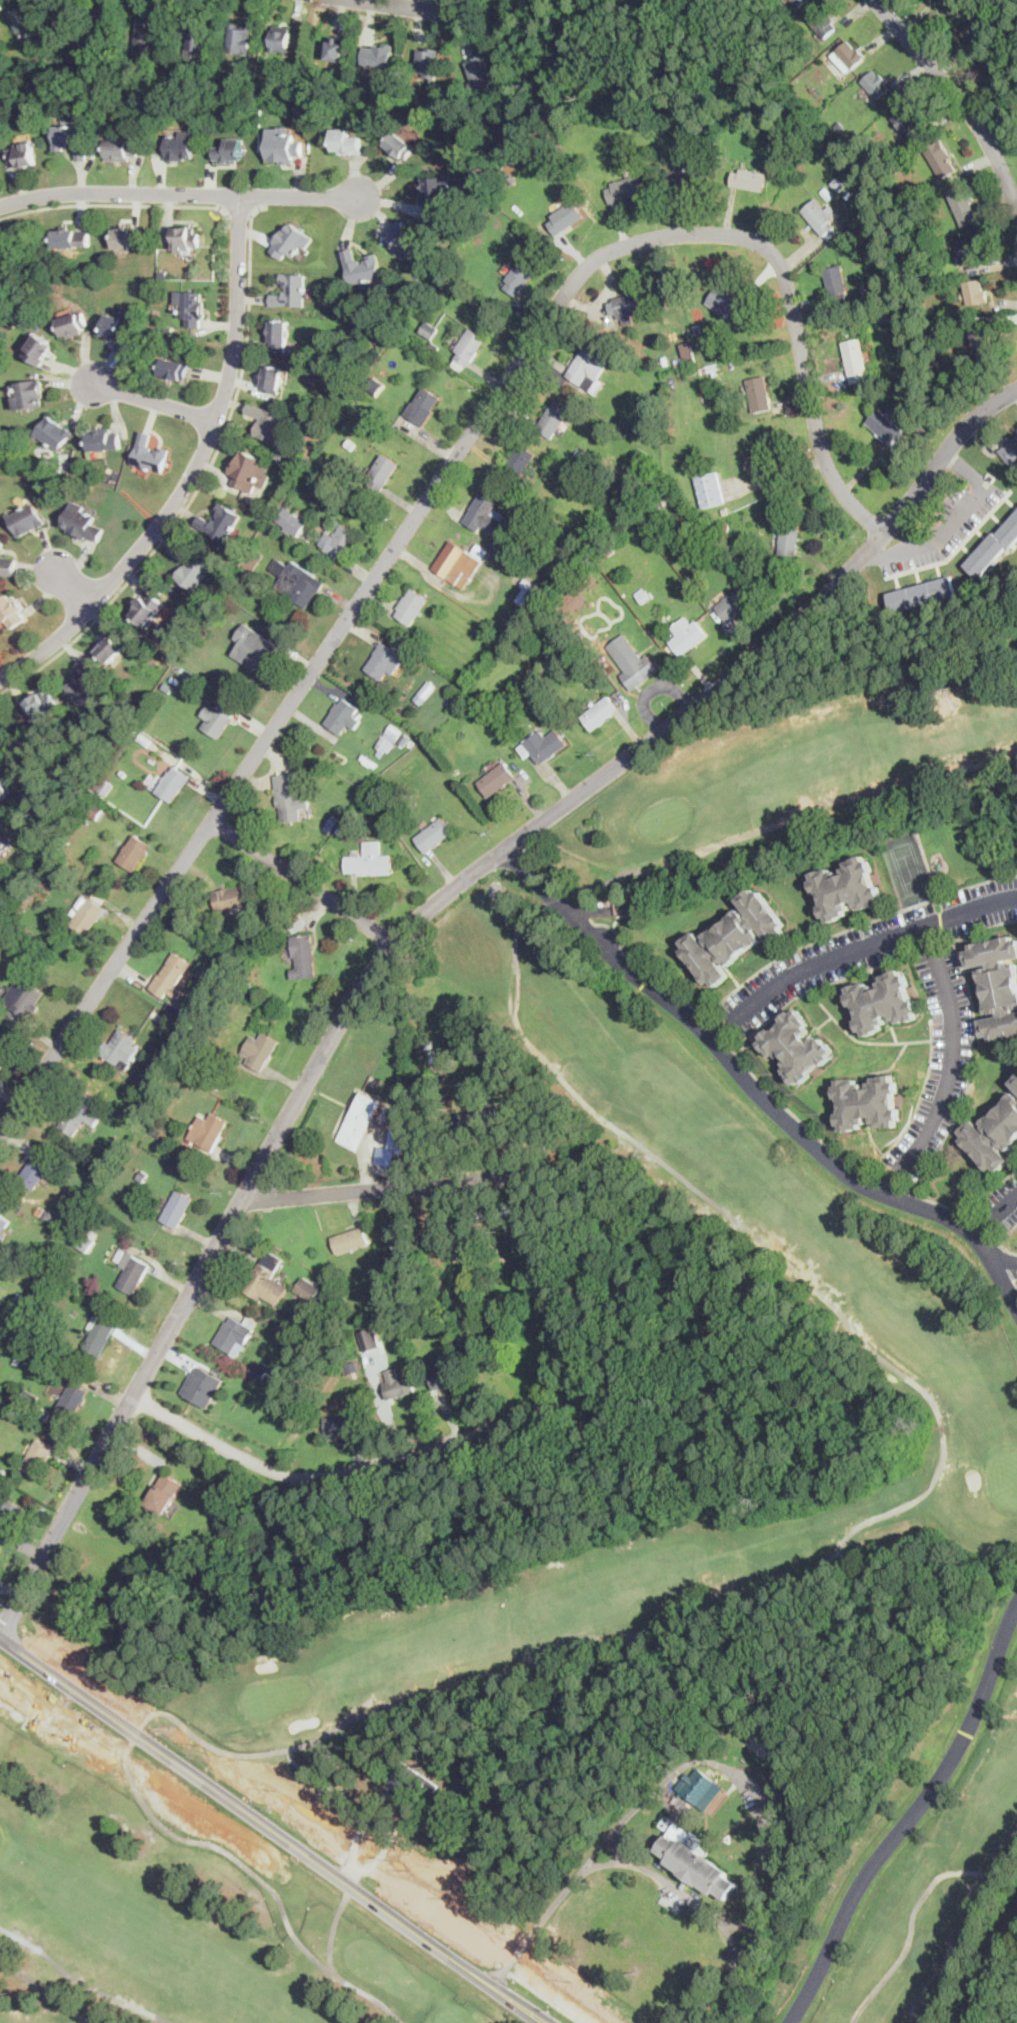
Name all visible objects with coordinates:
building: (799, 2)
road: (425, 5)
building: (955, 6)
building: (824, 23)
building: (25, 26)
building: (979, 30)
building: (145, 33)
building: (196, 35)
building: (239, 37)
building: (280, 37)
park: (513, 38)
building: (164, 40)
building: (335, 48)
building: (84, 53)
building: (379, 55)
building: (848, 56)
building: (219, 57)
building: (427, 63)
building: (995, 64)
building: (207, 68)
building: (478, 70)
building: (275, 80)
building: (876, 83)
building: (246, 89)
building: (323, 90)
building: (357, 91)
building: (766, 95)
road: (960, 97)
building: (37, 120)
building: (908, 121)
building: (796, 125)
building: (703, 126)
building: (852, 138)
building: (72, 139)
building: (347, 142)
building: (181, 146)
building: (284, 146)
building: (400, 146)
building: (122, 150)
building: (230, 151)
building: (24, 154)
building: (940, 160)
building: (511, 179)
building: (750, 179)
building: (686, 182)
building: (839, 184)
building: (625, 189)
road: (178, 193)
building: (436, 193)
building: (827, 194)
building: (848, 195)
road: (112, 202)
building: (963, 203)
road: (237, 212)
building: (566, 218)
building: (821, 218)
building: (402, 236)
building: (73, 238)
building: (187, 238)
building: (127, 239)
building: (291, 240)
building: (427, 251)
building: (968, 251)
building: (102, 265)
building: (363, 269)
building: (163, 273)
building: (520, 277)
building: (836, 282)
building: (291, 292)
building: (975, 292)
building: (871, 293)
building: (726, 304)
building: (192, 306)
building: (625, 307)
building: (882, 314)
building: (940, 318)
building: (413, 322)
building: (11, 323)
building: (74, 324)
building: (117, 329)
building: (699, 329)
building: (430, 330)
building: (665, 330)
building: (278, 335)
building: (981, 341)
building: (434, 347)
building: (39, 349)
building: (468, 349)
building: (689, 354)
building: (855, 359)
building: (679, 361)
building: (584, 365)
building: (174, 369)
building: (694, 369)
building: (710, 369)
building: (272, 378)
building: (375, 387)
building: (759, 393)
building: (30, 394)
road: (151, 399)
building: (422, 407)
building: (554, 418)
building: (267, 422)
building: (644, 424)
building: (887, 427)
building: (54, 433)
building: (105, 440)
building: (351, 444)
building: (1010, 450)
building: (578, 453)
building: (150, 454)
building: (279, 455)
building: (765, 462)
building: (519, 463)
road: (968, 469)
road: (191, 470)
building: (250, 470)
building: (383, 472)
road: (199, 479)
building: (710, 489)
road: (429, 492)
building: (665, 497)
building: (725, 511)
building: (524, 512)
building: (649, 512)
building: (484, 516)
building: (26, 519)
building: (220, 522)
building: (82, 523)
building: (296, 525)
building: (726, 527)
road: (945, 530)
building: (690, 537)
building: (790, 538)
building: (535, 540)
building: (343, 542)
building: (2, 543)
building: (993, 548)
building: (480, 552)
road: (877, 552)
building: (236, 555)
building: (513, 555)
building: (251, 561)
building: (457, 565)
building: (7, 566)
building: (191, 569)
building: (228, 572)
building: (692, 582)
building: (298, 583)
road: (70, 586)
building: (527, 592)
building: (922, 594)
building: (545, 597)
building: (644, 597)
building: (733, 602)
building: (411, 606)
building: (218, 608)
building: (147, 609)
building: (12, 611)
building: (2, 621)
building: (552, 636)
building: (686, 636)
building: (112, 647)
building: (255, 648)
building: (384, 661)
building: (631, 661)
building: (190, 677)
building: (88, 685)
building: (167, 687)
building: (428, 689)
building: (511, 692)
building: (42, 705)
building: (600, 713)
building: (343, 716)
building: (219, 719)
building: (391, 736)
building: (405, 736)
building: (141, 737)
building: (410, 744)
building: (543, 745)
building: (497, 779)
building: (4, 783)
building: (173, 785)
building: (105, 787)
building: (289, 797)
building: (373, 803)
building: (94, 808)
building: (332, 822)
building: (340, 831)
building: (434, 835)
building: (4, 843)
building: (134, 853)
building: (369, 863)
park: (907, 870)
road: (302, 882)
building: (846, 888)
building: (511, 895)
building: (99, 898)
building: (230, 898)
building: (628, 908)
building: (89, 916)
building: (298, 921)
road: (406, 928)
building: (264, 937)
building: (734, 937)
building: (11, 939)
road: (855, 950)
building: (303, 956)
building: (171, 976)
building: (998, 984)
building: (23, 998)
building: (882, 1002)
building: (176, 1010)
building: (429, 1044)
building: (797, 1046)
building: (97, 1049)
building: (120, 1049)
building: (192, 1050)
building: (260, 1051)
building: (4, 1056)
building: (440, 1059)
road: (952, 1066)
building: (153, 1069)
building: (207, 1070)
building: (201, 1077)
building: (143, 1081)
building: (214, 1083)
building: (1015, 1083)
road: (756, 1089)
building: (197, 1091)
building: (393, 1098)
building: (868, 1102)
building: (171, 1107)
building: (80, 1113)
building: (140, 1114)
building: (477, 1119)
building: (360, 1120)
building: (208, 1131)
building: (157, 1132)
building: (994, 1135)
building: (392, 1141)
building: (35, 1170)
building: (142, 1175)
road: (378, 1189)
building: (177, 1209)
building: (39, 1211)
building: (76, 1212)
building: (495, 1212)
road: (994, 1213)
building: (47, 1216)
building: (55, 1222)
building: (3, 1224)
building: (402, 1236)
building: (88, 1240)
building: (350, 1240)
building: (120, 1255)
road: (1005, 1258)
building: (10, 1263)
building: (132, 1273)
building: (266, 1279)
building: (308, 1289)
building: (330, 1294)
building: (21, 1297)
building: (458, 1306)
building: (114, 1312)
building: (307, 1316)
building: (419, 1324)
building: (99, 1335)
building: (236, 1335)
building: (43, 1336)
building: (370, 1340)
building: (46, 1343)
building: (352, 1367)
building: (259, 1370)
building: (446, 1377)
building: (270, 1378)
building: (201, 1385)
building: (398, 1385)
building: (29, 1395)
building: (71, 1400)
building: (43, 1414)
building: (341, 1424)
road: (466, 1432)
building: (38, 1457)
building: (164, 1493)
building: (9, 1517)
building: (222, 1544)
park: (609, 1572)
road: (11, 1624)
road: (179, 1737)
building: (408, 1745)
road: (746, 1776)
building: (409, 1779)
building: (697, 1785)
road: (156, 1791)
road: (911, 1818)
road: (296, 1826)
road: (278, 1844)
road: (325, 1857)
building: (695, 1864)
road: (656, 1875)
road: (916, 1909)
road: (484, 1925)
road: (418, 1948)
railway: (990, 1964)
building: (752, 1993)

